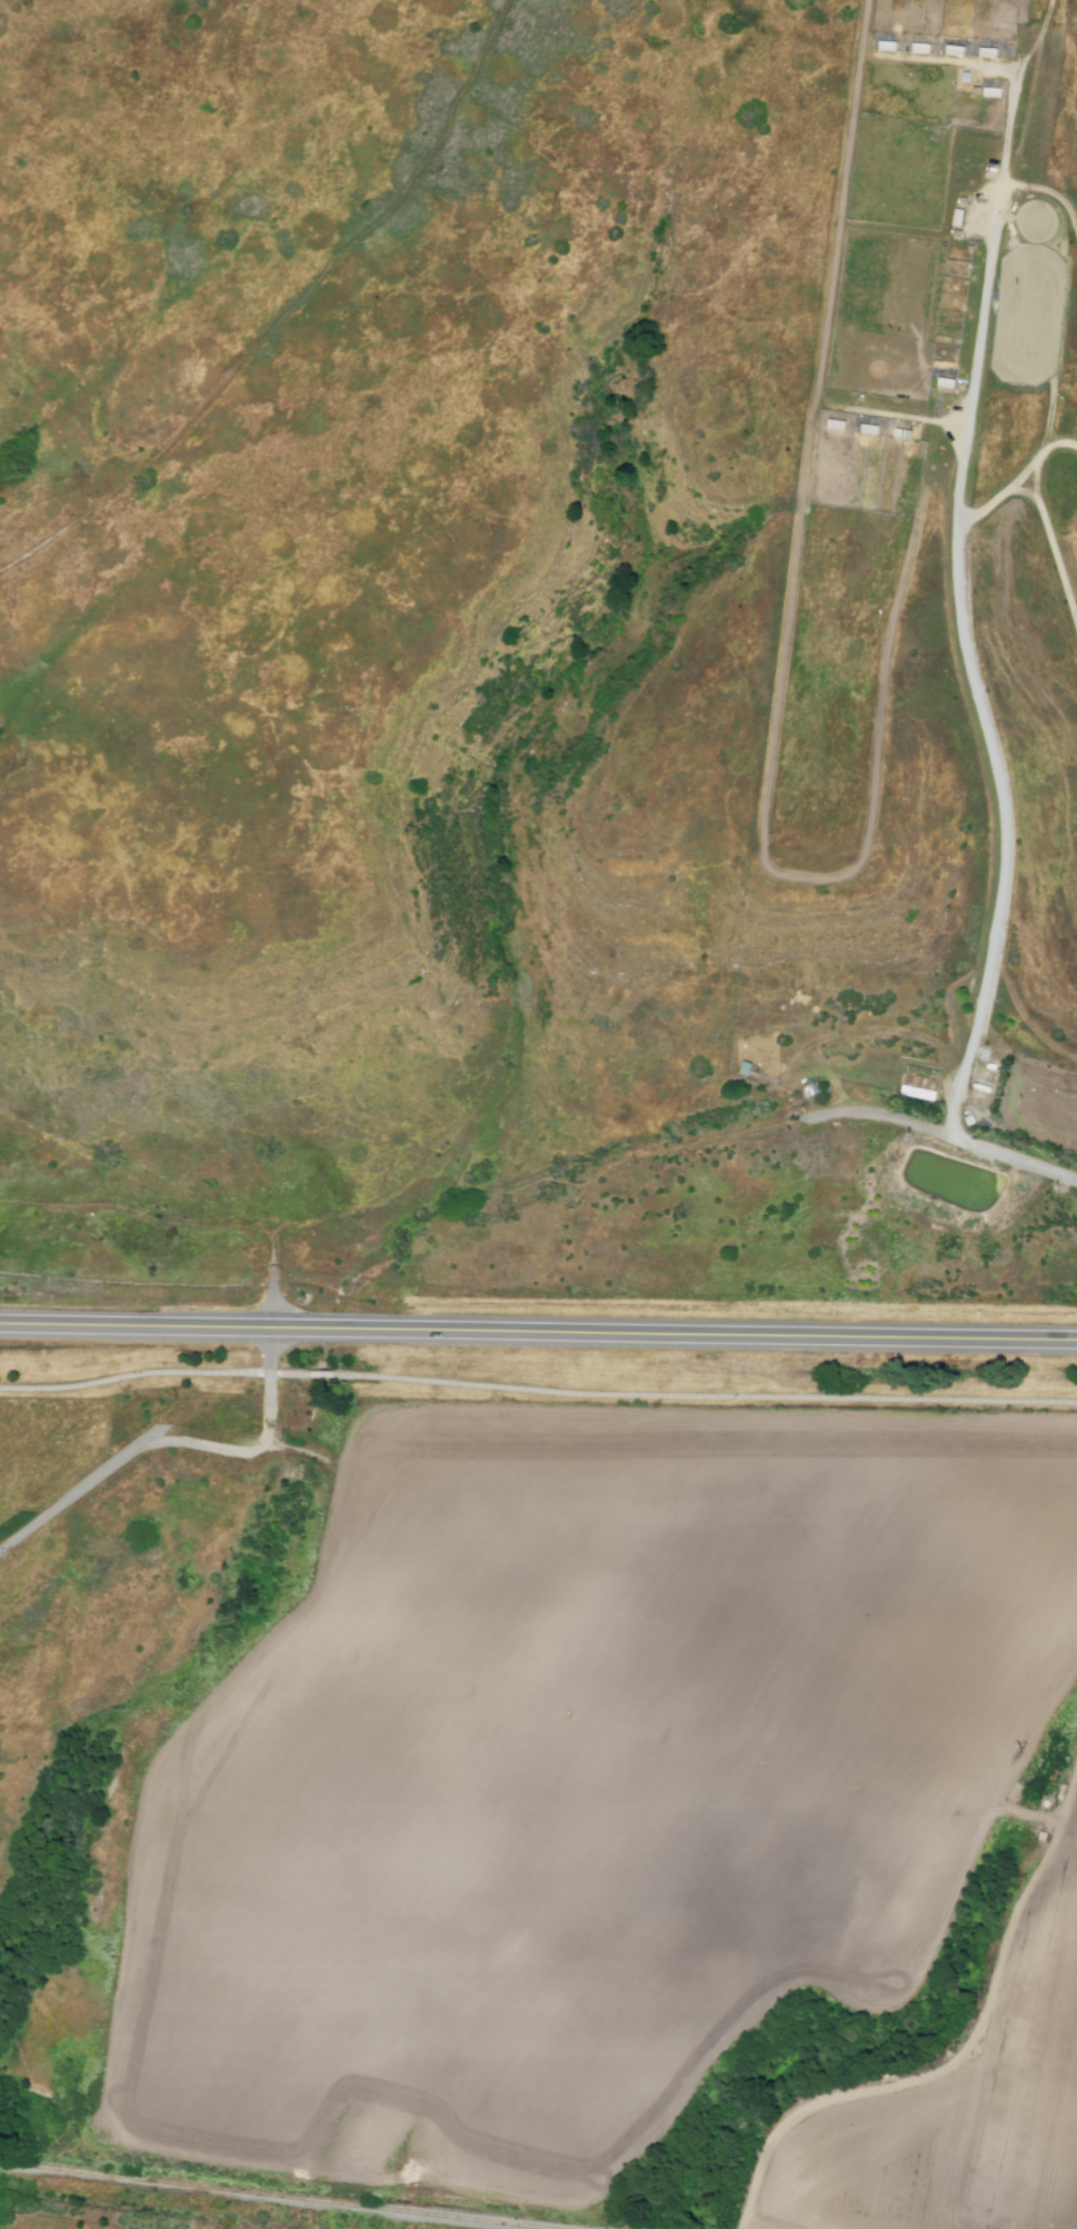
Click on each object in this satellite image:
road: (1037, 36)
building: (888, 44)
building: (921, 48)
building: (956, 49)
building: (989, 53)
building: (994, 92)
road: (1051, 191)
building: (963, 212)
road: (286, 311)
building: (946, 386)
road: (1048, 414)
building: (837, 424)
building: (869, 428)
building: (904, 432)
road: (1073, 445)
road: (1019, 479)
road: (954, 526)
crop: (935, 549)
road: (1051, 549)
road: (785, 665)
building: (745, 1066)
road: (943, 1132)
road: (150, 1223)
road: (272, 1300)
road: (136, 1326)
road: (675, 1335)
road: (271, 1351)
road: (134, 1373)
road: (290, 1373)
road: (320, 1374)
road: (704, 1395)
road: (270, 1396)
road: (297, 1449)
road: (133, 1452)
road: (680, 1751)
crop: (582, 1780)
building: (1050, 1810)
building: (1046, 1842)
road: (119, 2017)
road: (961, 2052)
crop: (961, 2108)
railway: (276, 2195)
road: (746, 2228)

